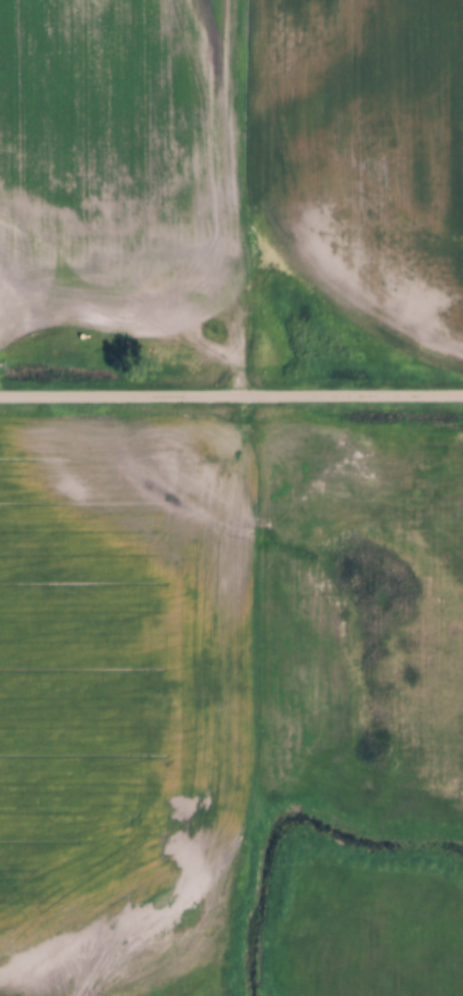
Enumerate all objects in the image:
road: (231, 390)

